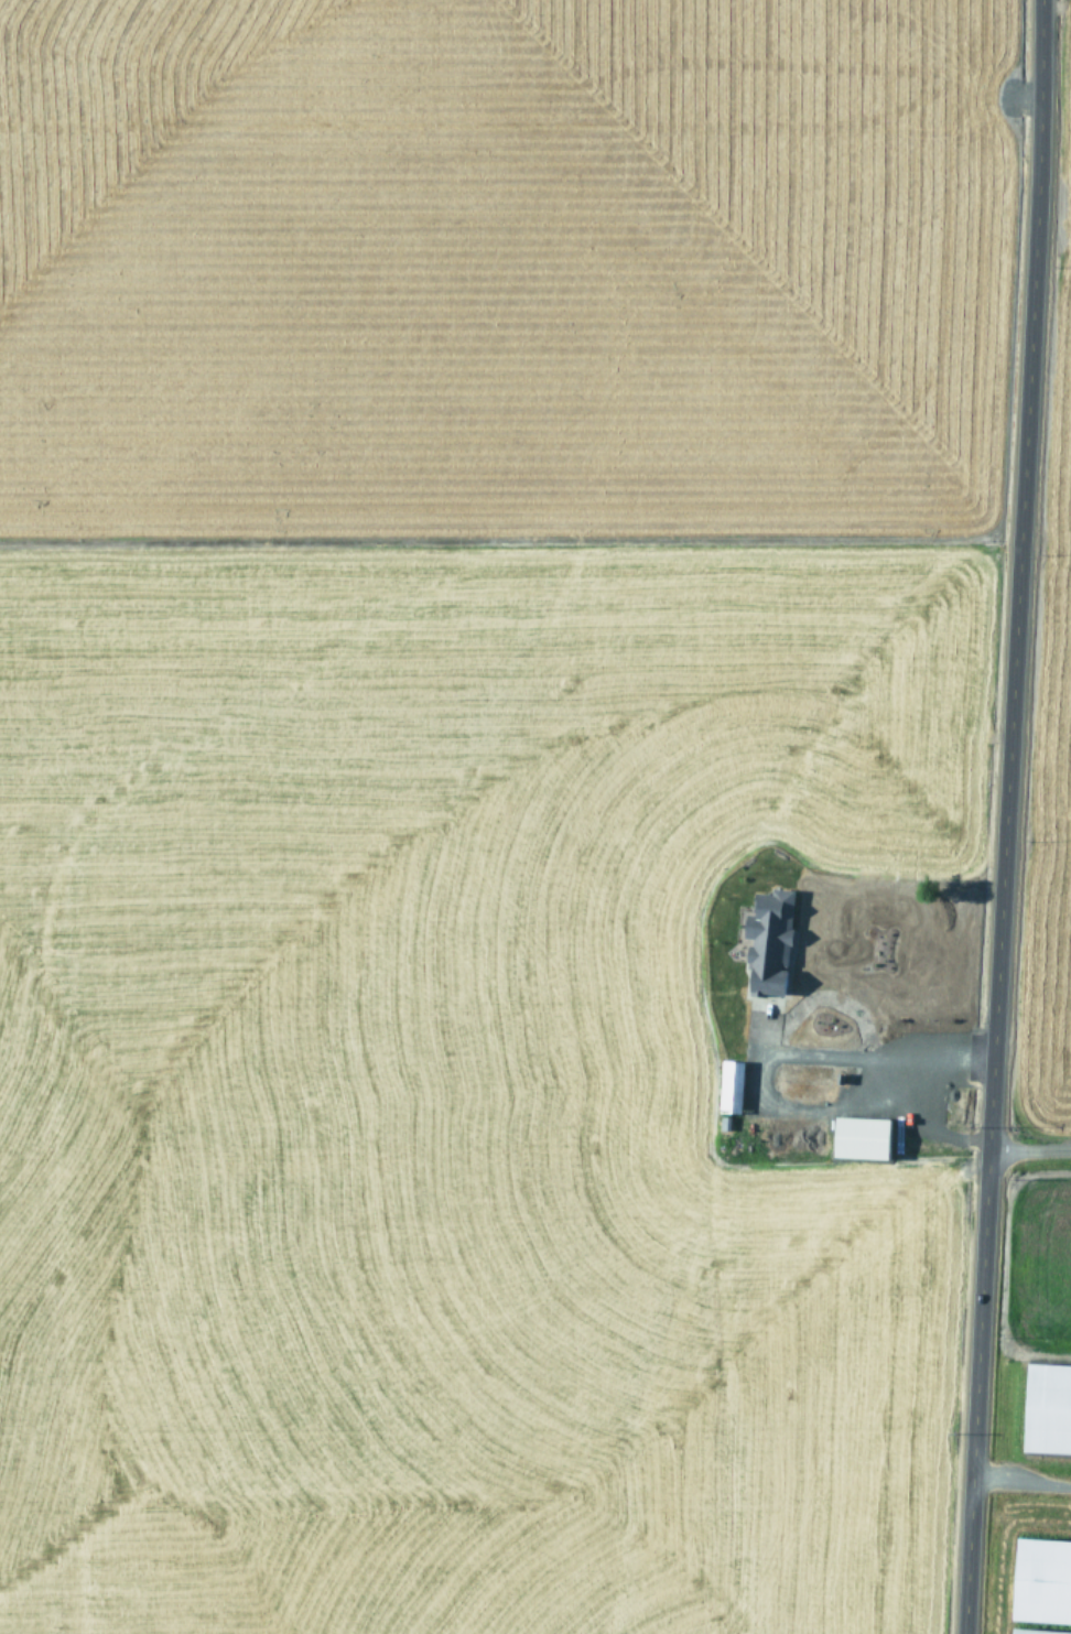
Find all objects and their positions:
crop: (474, 807)
road: (995, 816)
building: (765, 941)
building: (837, 1078)
building: (727, 1087)
building: (722, 1123)
building: (857, 1137)
road: (1025, 1147)
crop: (1041, 1153)
building: (1045, 1409)
building: (1039, 1579)
building: (1034, 1631)

